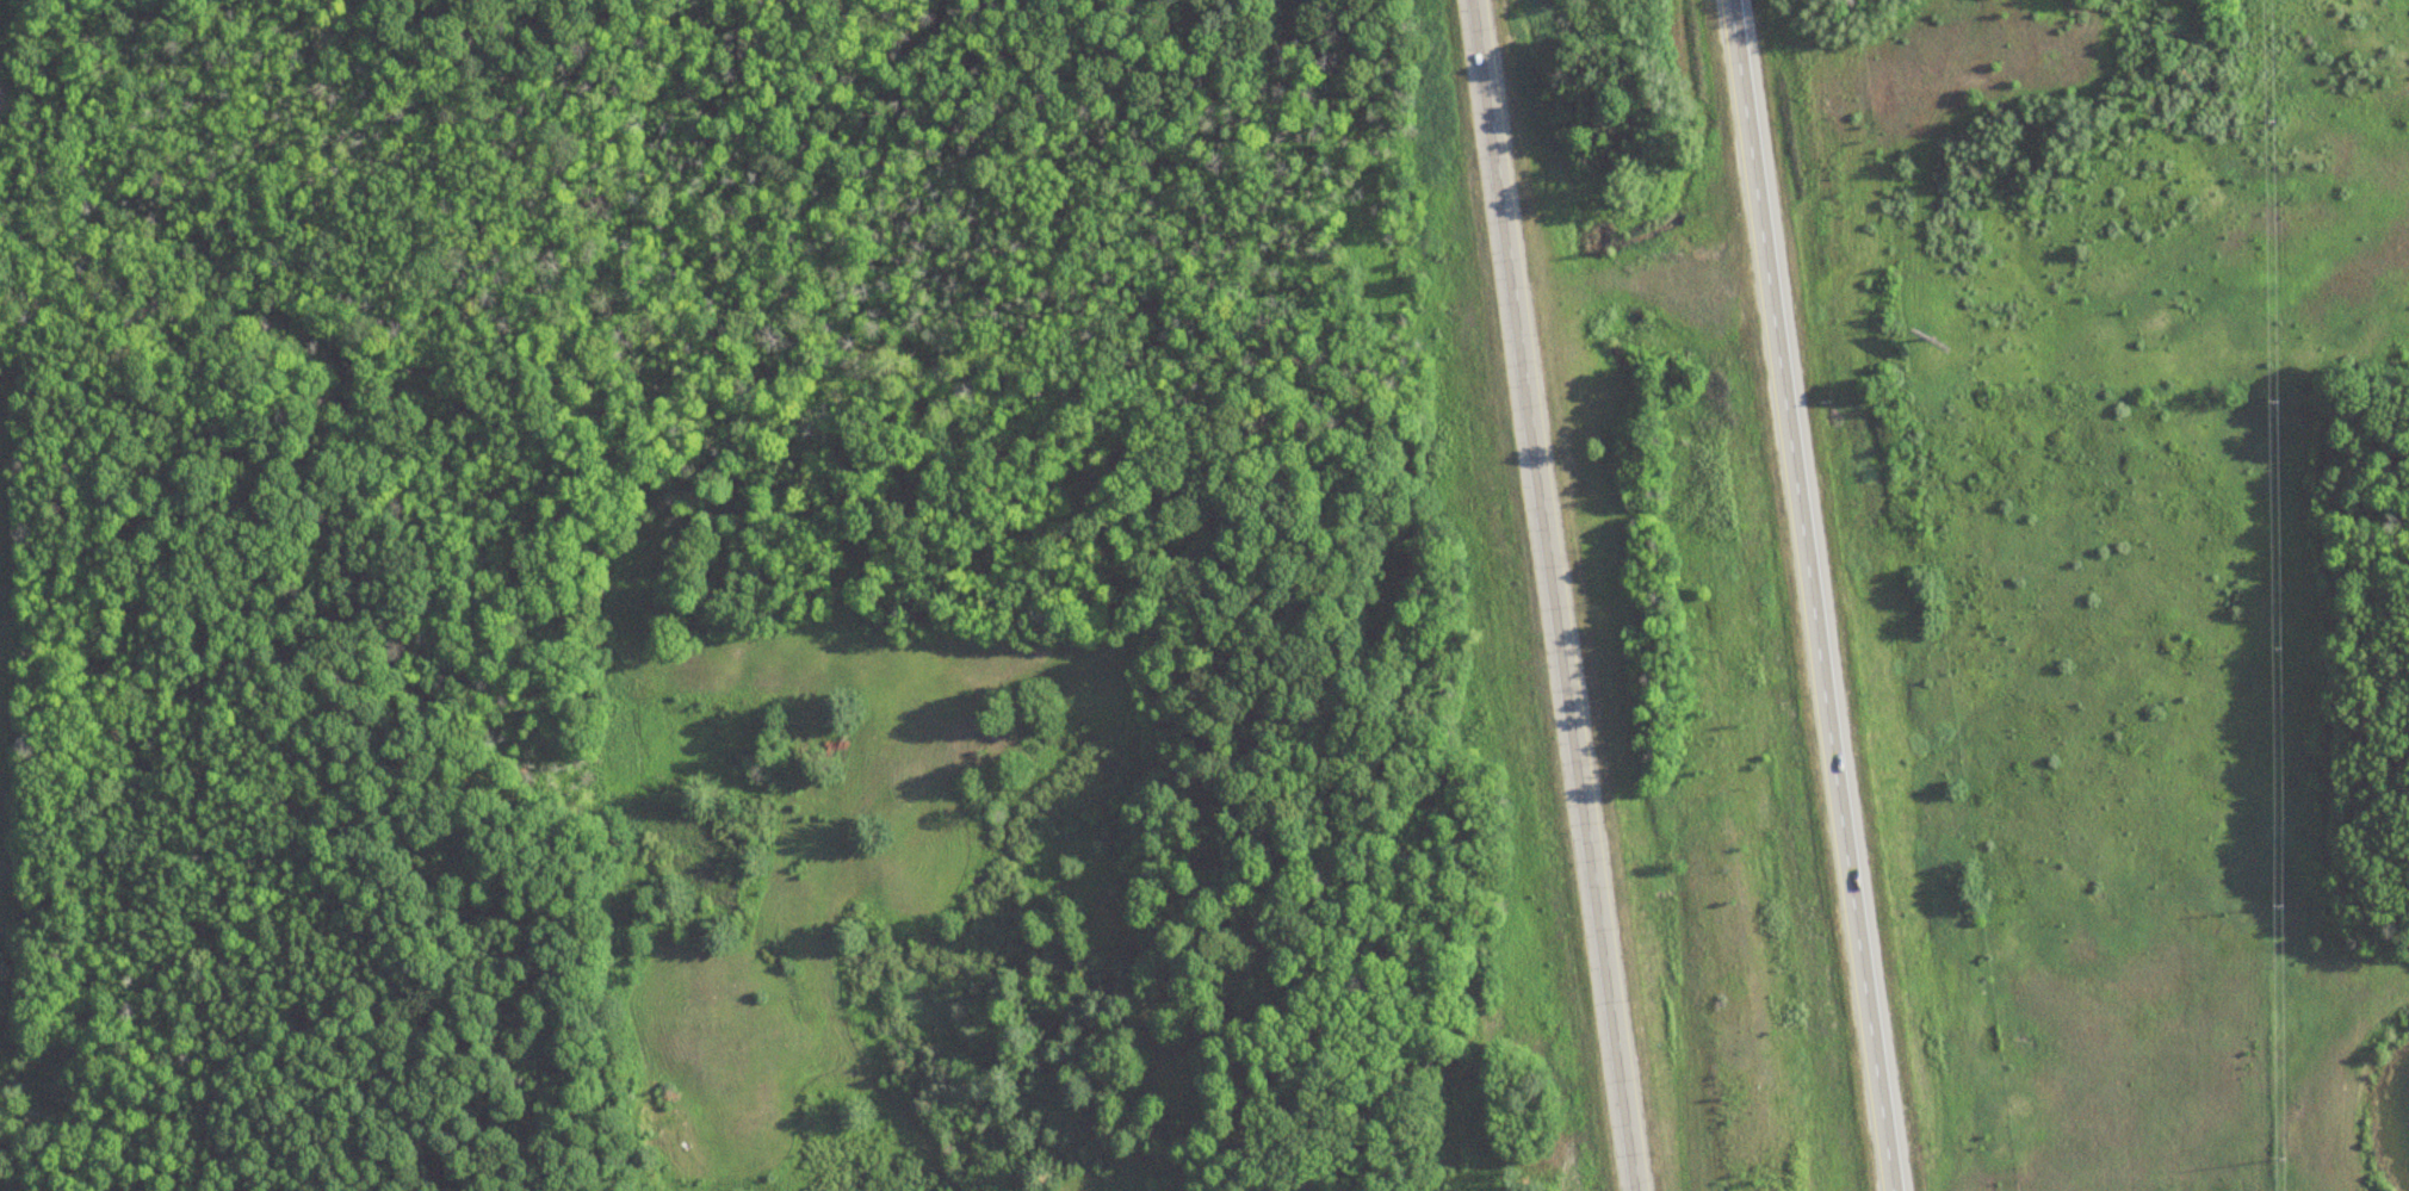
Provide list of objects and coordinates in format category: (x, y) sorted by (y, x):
road: (1553, 595)
road: (1804, 595)

